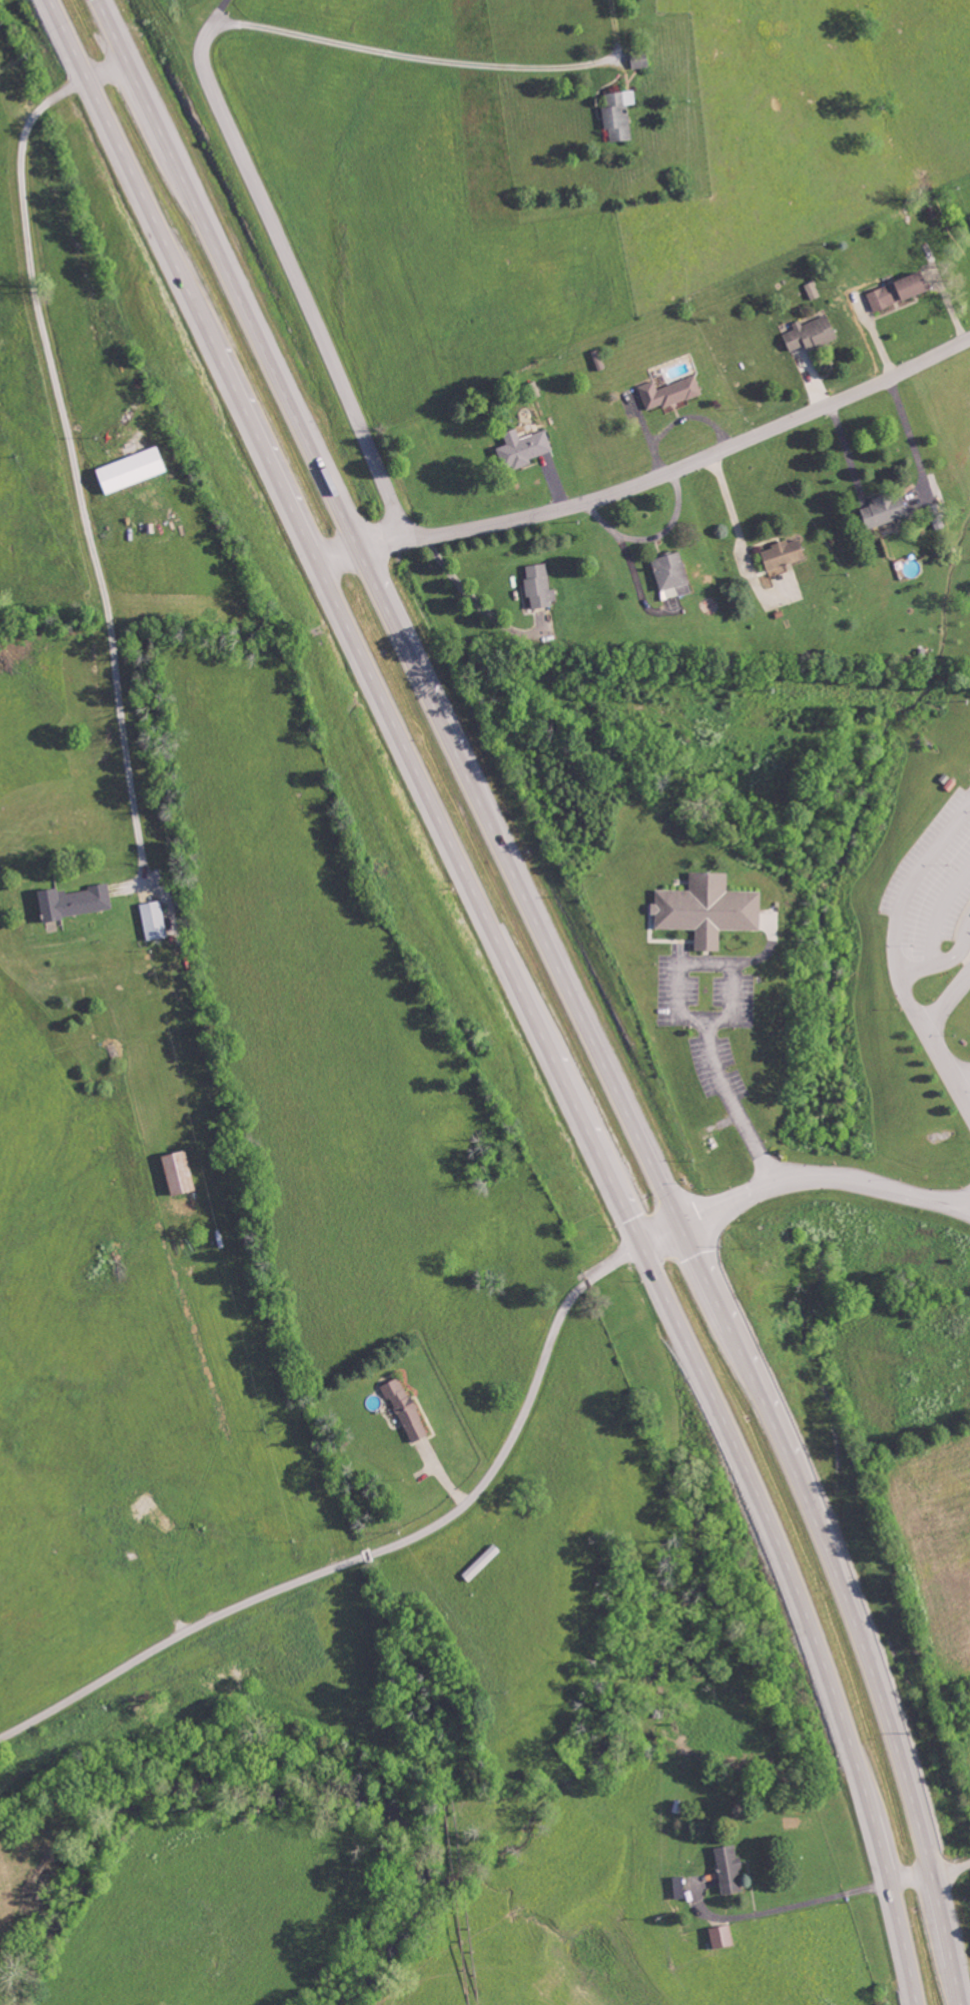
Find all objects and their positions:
road: (443, 61)
building: (619, 115)
road: (293, 268)
building: (899, 291)
building: (812, 333)
building: (670, 392)
building: (525, 448)
road: (73, 455)
building: (133, 470)
road: (653, 477)
building: (886, 508)
building: (783, 555)
building: (671, 569)
building: (540, 584)
building: (75, 900)
building: (709, 907)
building: (154, 919)
road: (895, 954)
road: (947, 959)
road: (569, 987)
road: (520, 988)
road: (947, 1002)
road: (722, 1019)
road: (966, 1091)
building: (180, 1172)
road: (808, 1176)
road: (956, 1199)
road: (956, 1207)
road: (662, 1233)
building: (406, 1409)
road: (378, 1550)
building: (729, 1869)
road: (799, 1904)
building: (722, 1936)

